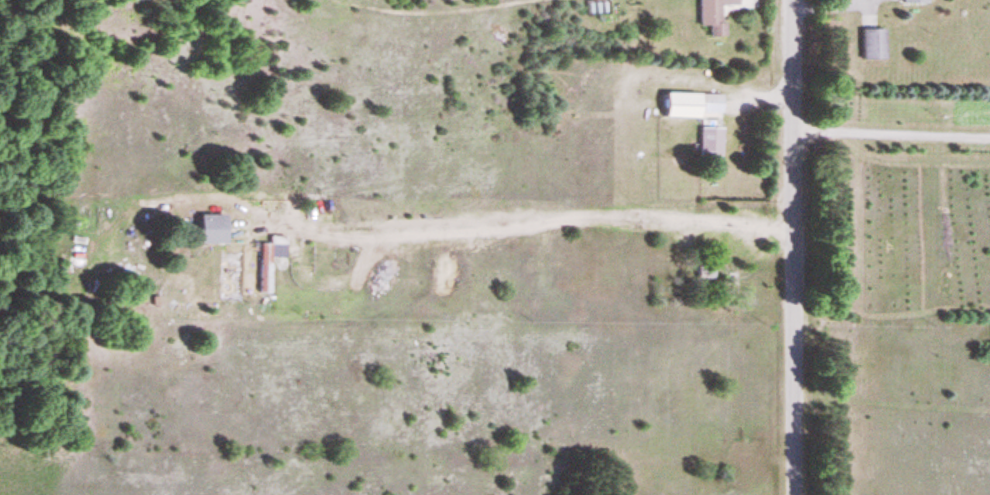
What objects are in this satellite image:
building: (911, 1)
building: (710, 15)
building: (870, 45)
building: (689, 106)
building: (708, 146)
building: (207, 229)
road: (791, 247)

